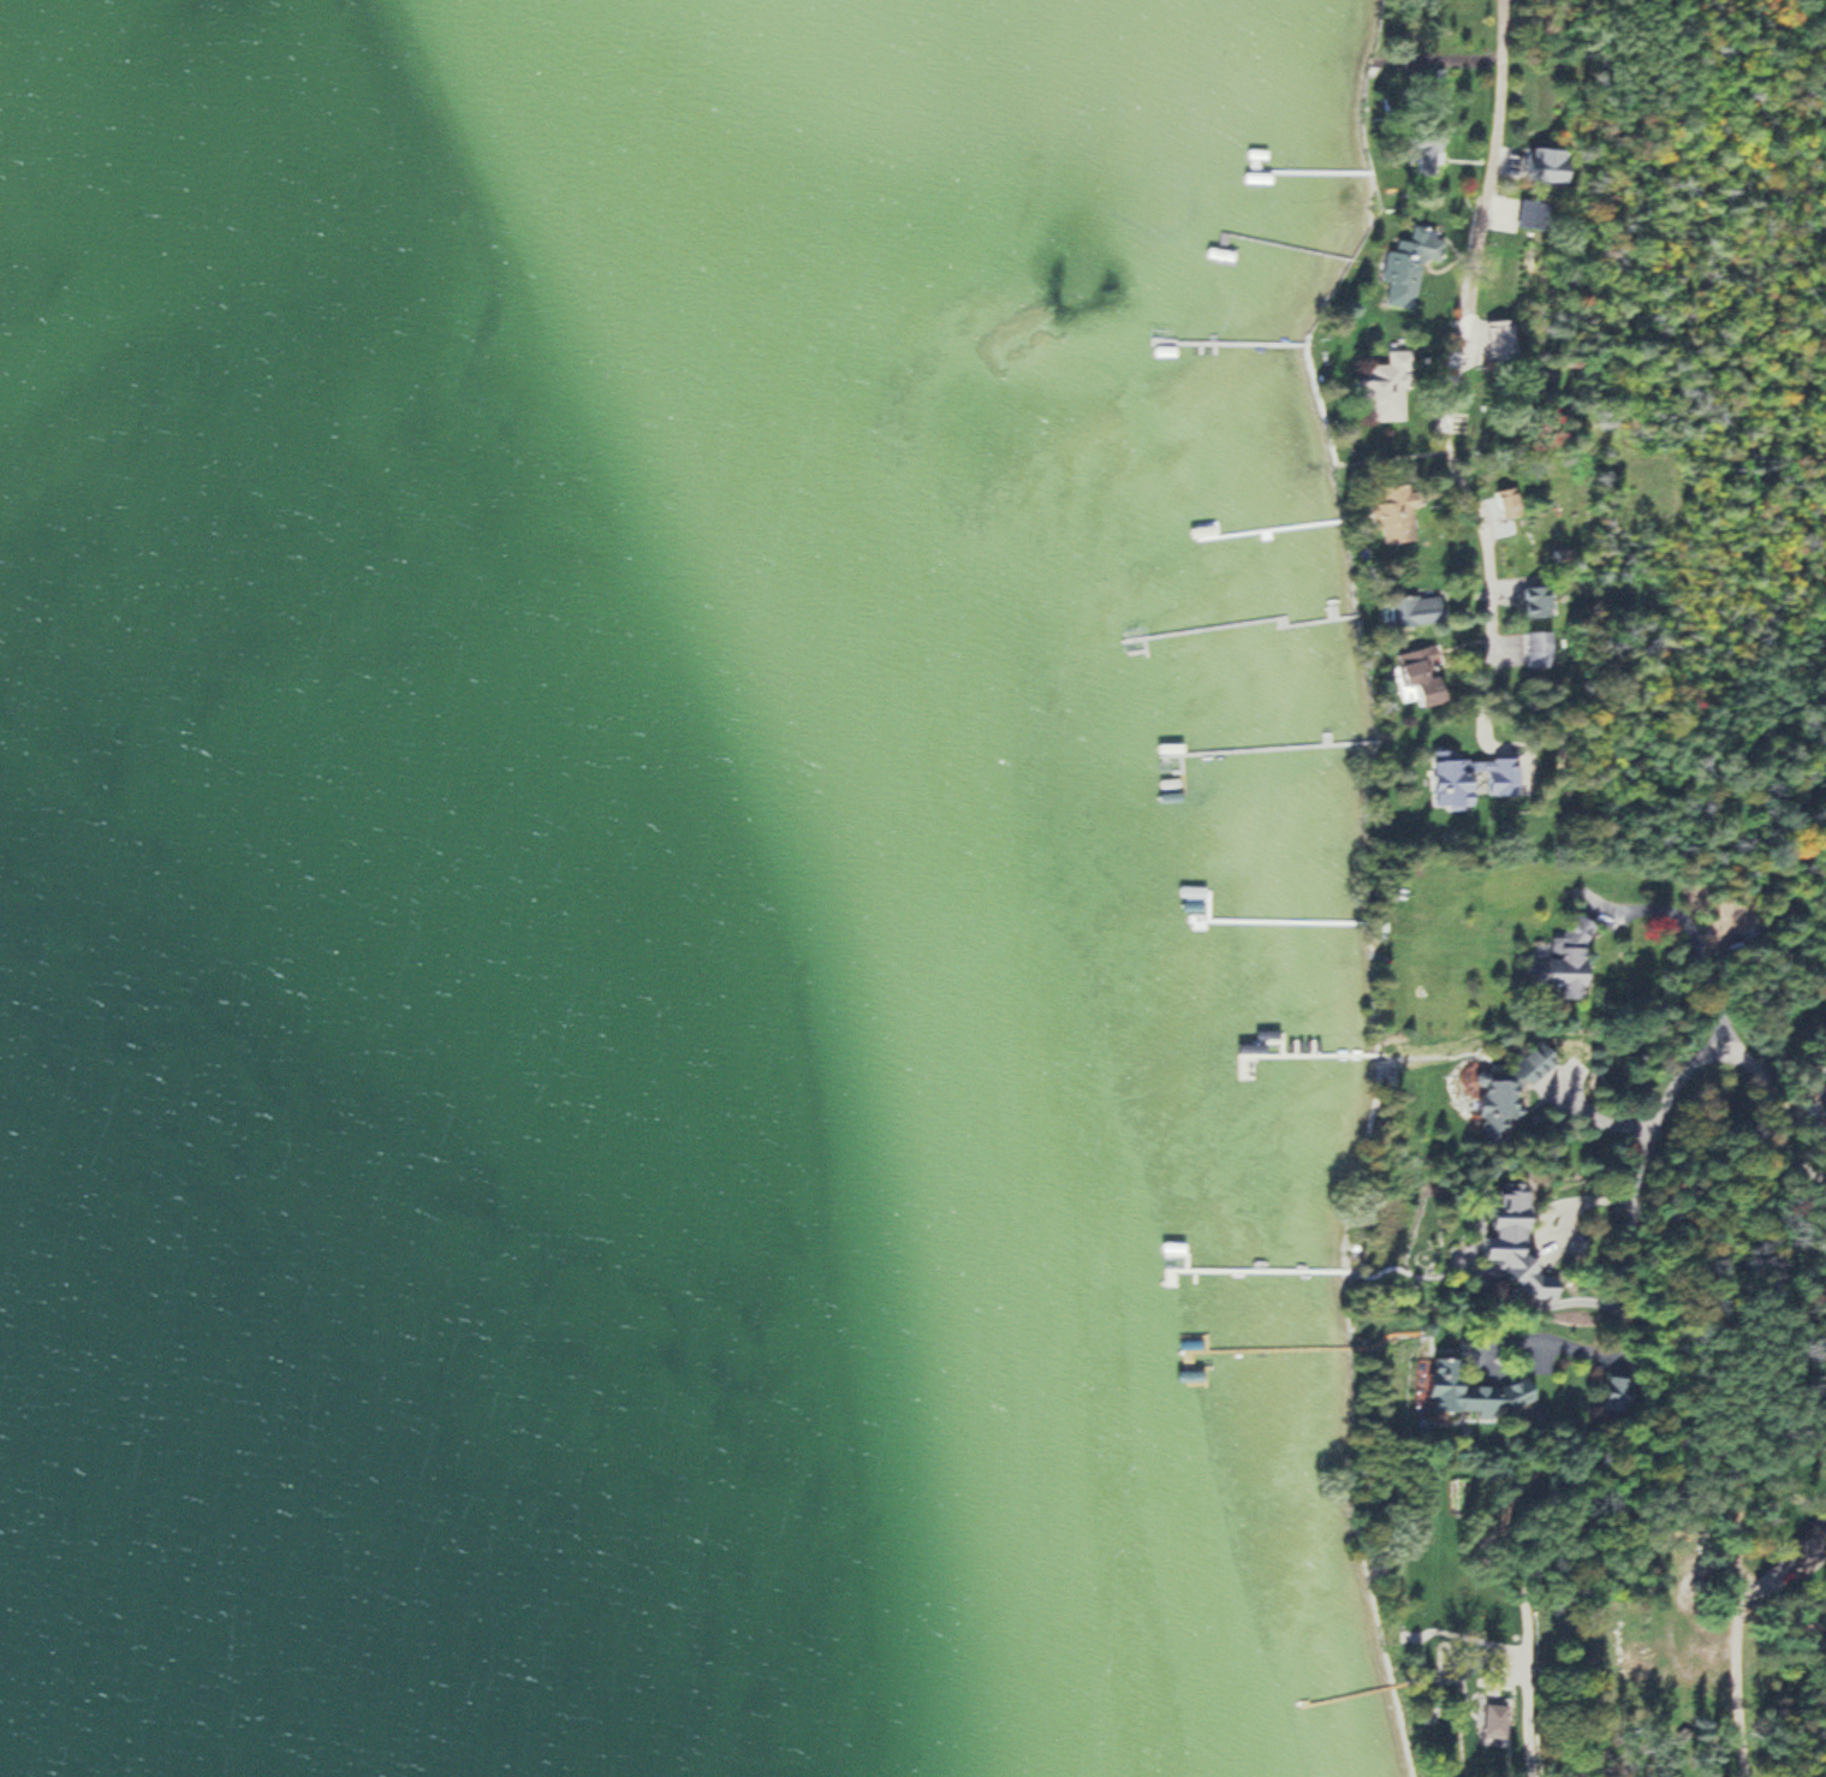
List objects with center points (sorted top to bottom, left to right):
building: (1423, 133)
building: (1537, 170)
building: (1534, 212)
building: (1416, 260)
building: (1500, 340)
road: (1458, 343)
building: (1386, 387)
building: (1505, 501)
building: (1393, 515)
building: (1536, 602)
building: (1415, 612)
building: (1537, 649)
building: (1426, 685)
road: (1485, 707)
building: (1469, 775)
road: (1688, 929)
building: (1568, 956)
road: (1676, 1082)
building: (1510, 1092)
road: (1589, 1116)
road: (1574, 1199)
building: (1519, 1241)
building: (376, 1321)
road: (1552, 1338)
building: (295, 1379)
building: (1471, 1389)
building: (1614, 1391)
building: (176, 1402)
building: (678, 1404)
road: (1468, 1630)
building: (1634, 1652)
road: (1732, 1668)
road: (1524, 1686)
building: (1486, 1720)

